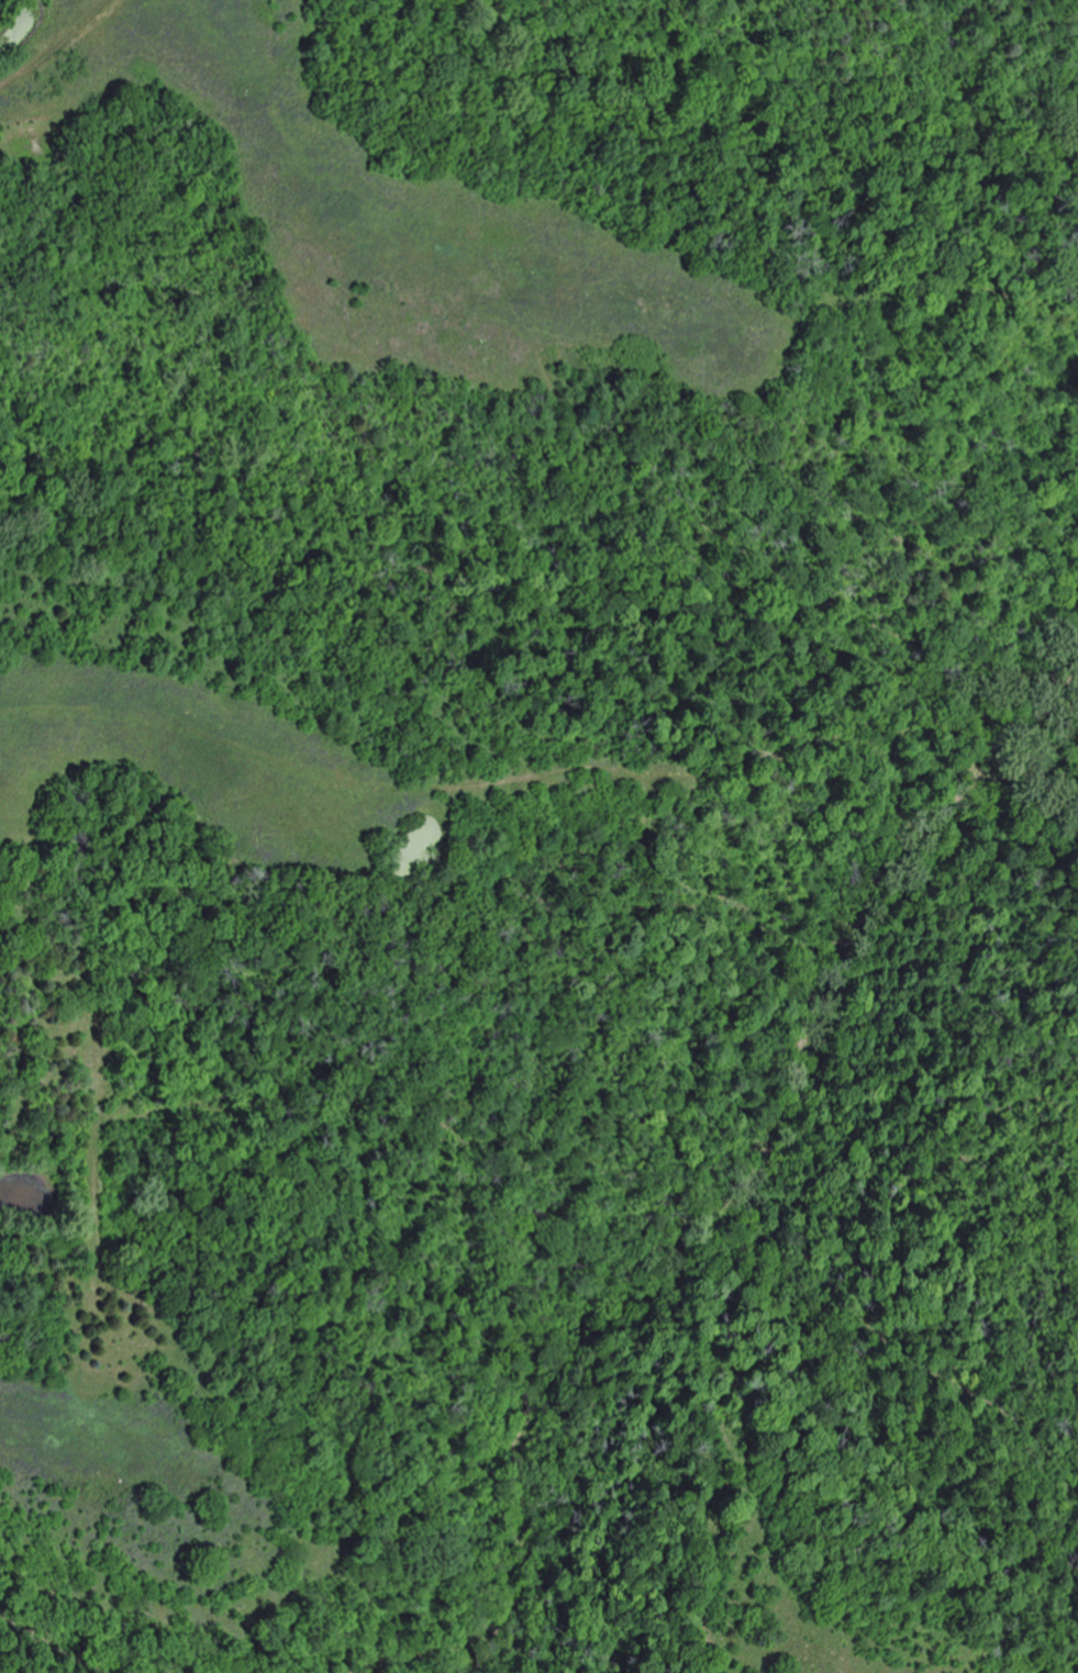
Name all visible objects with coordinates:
road: (58, 48)

